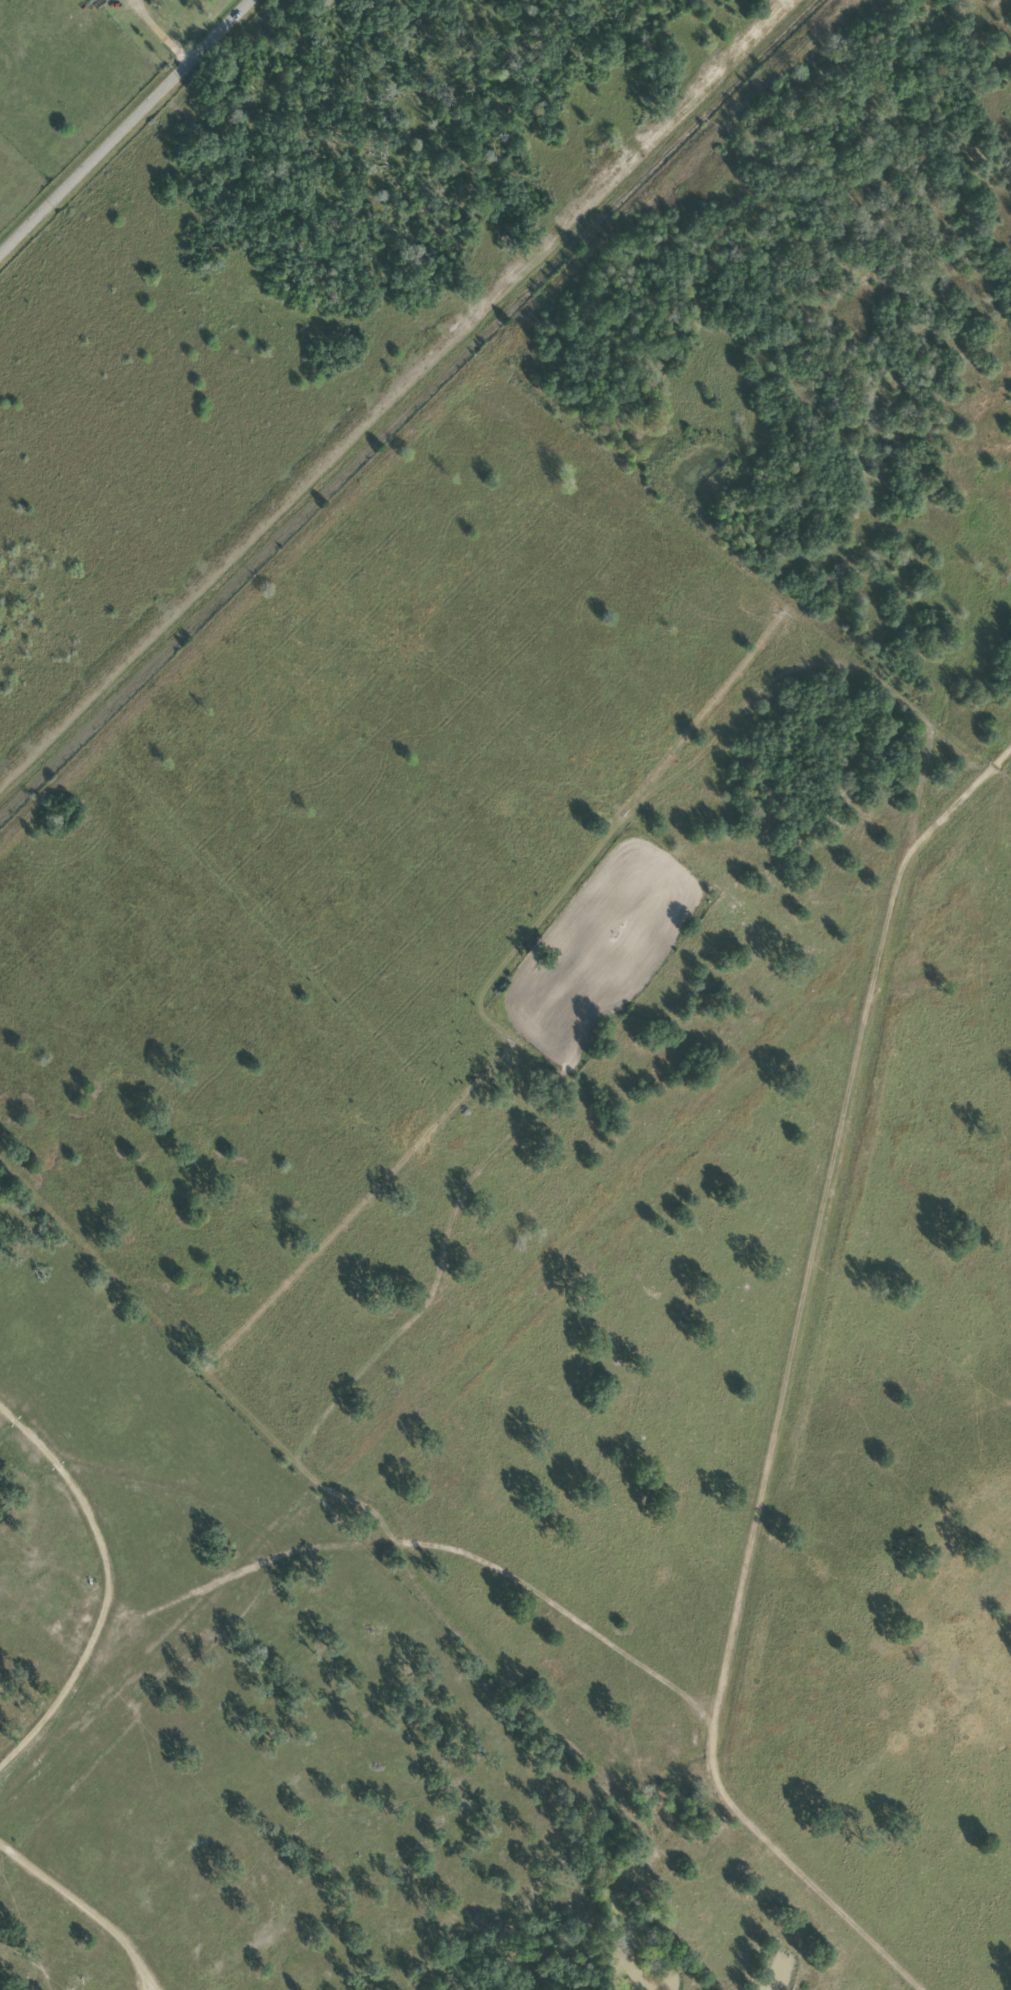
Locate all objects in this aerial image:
building: (93, 3)
road: (123, 124)
road: (29, 184)

